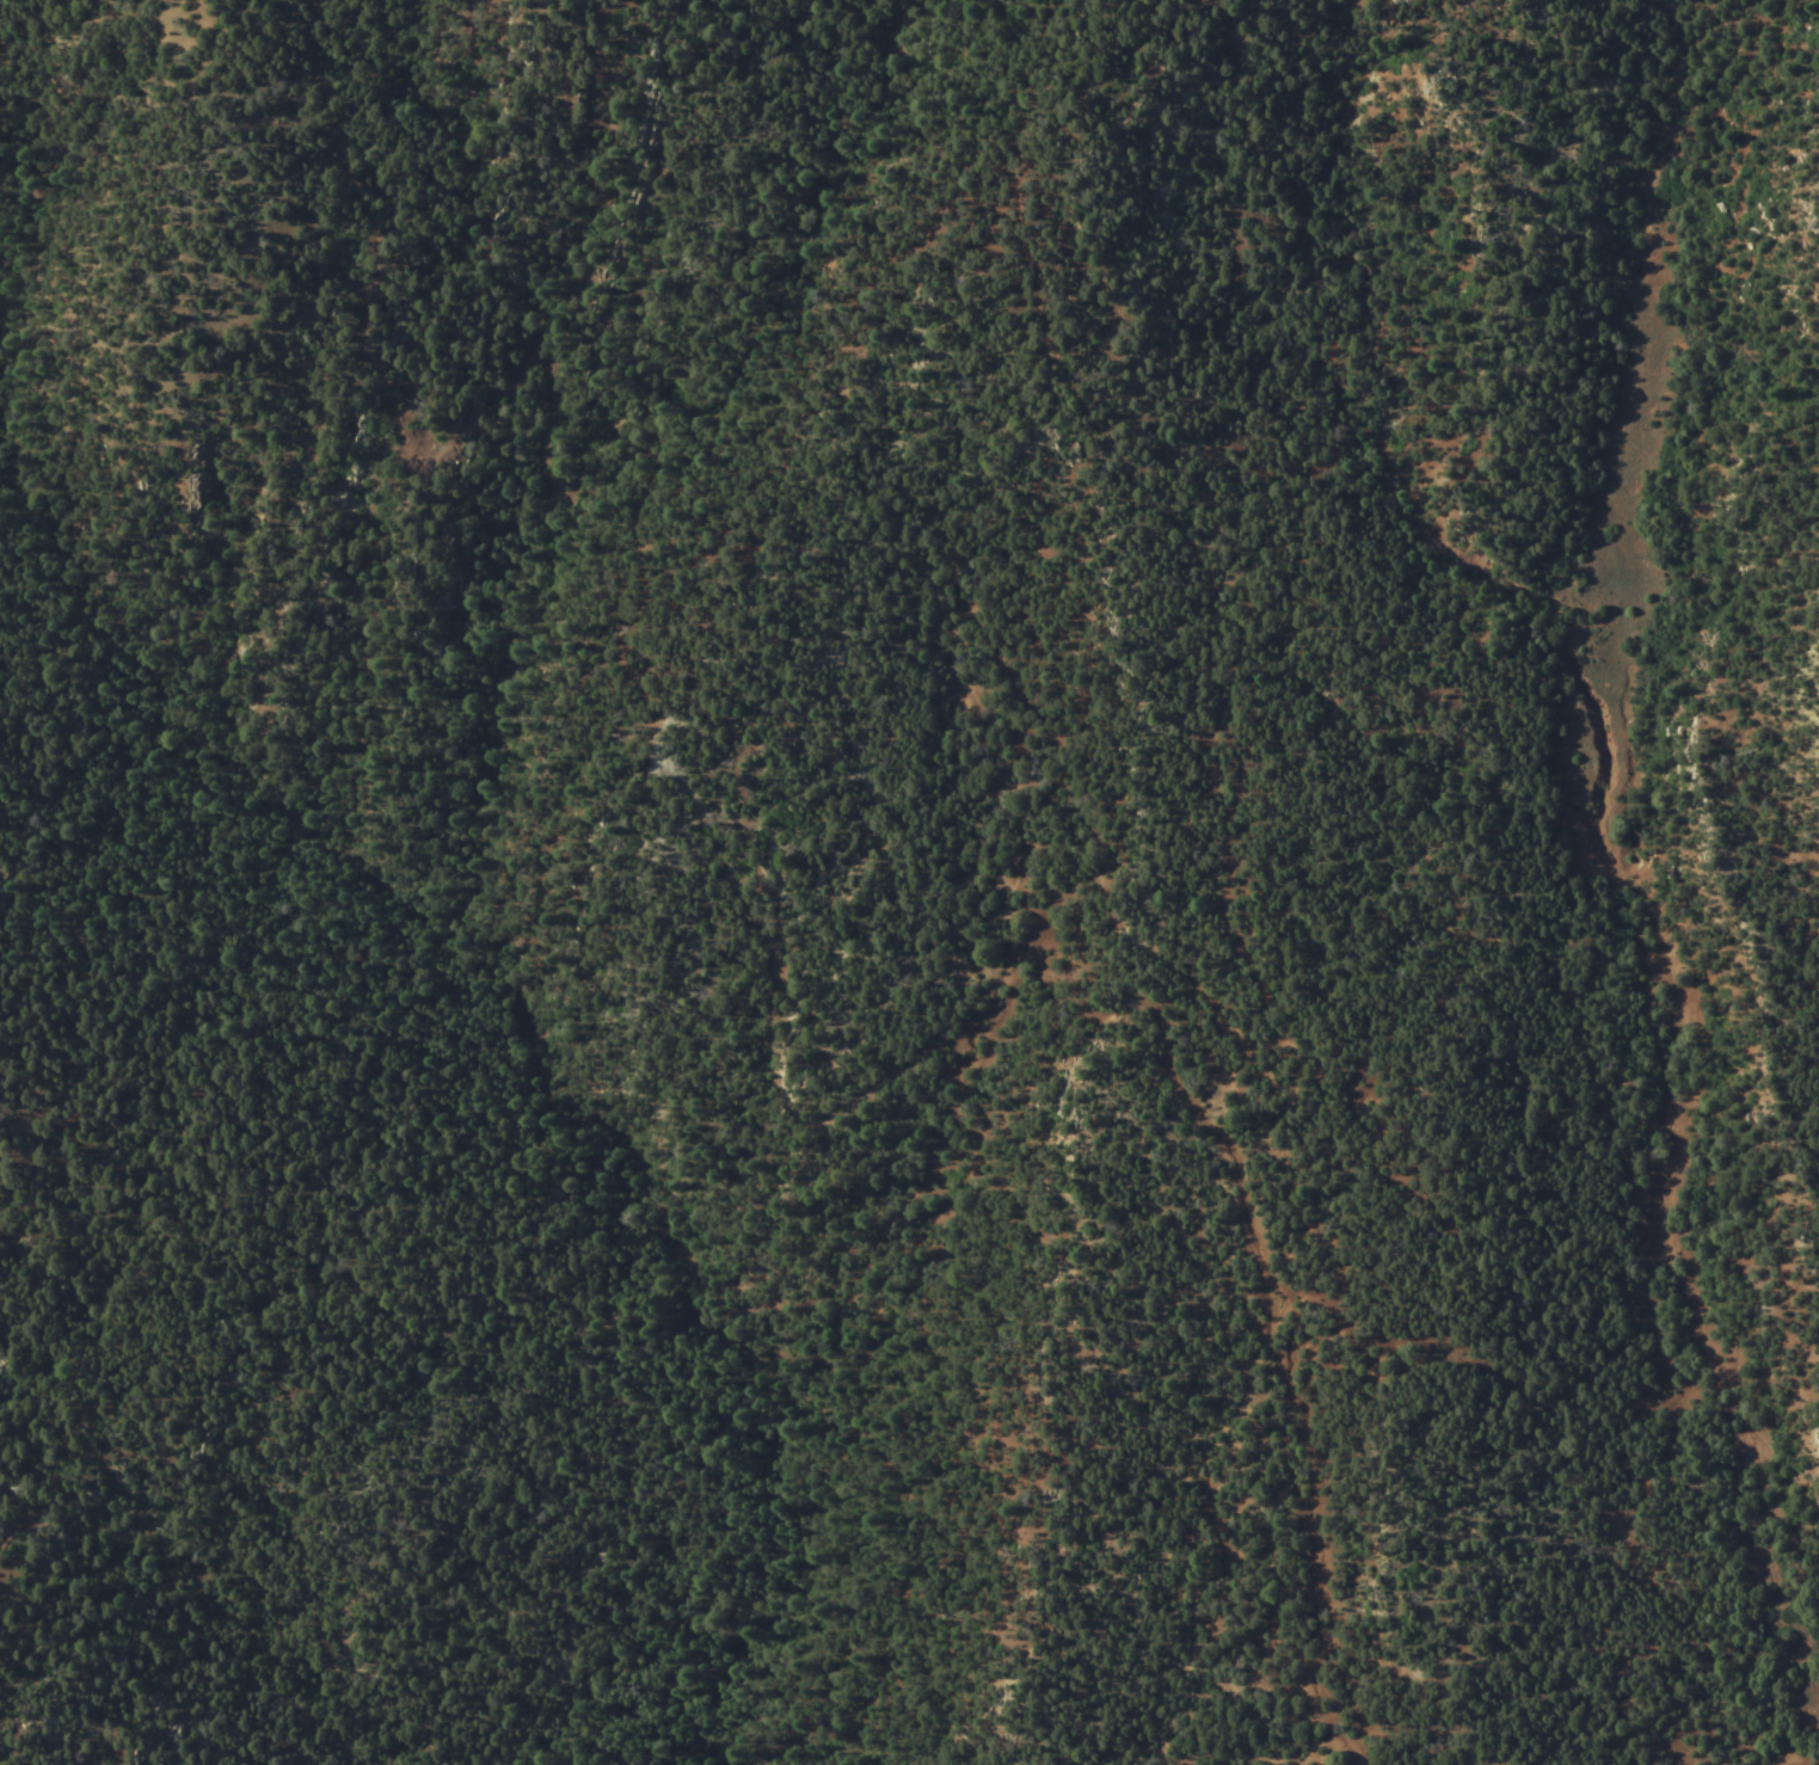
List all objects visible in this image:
road: (748, 963)
road: (1464, 1365)

